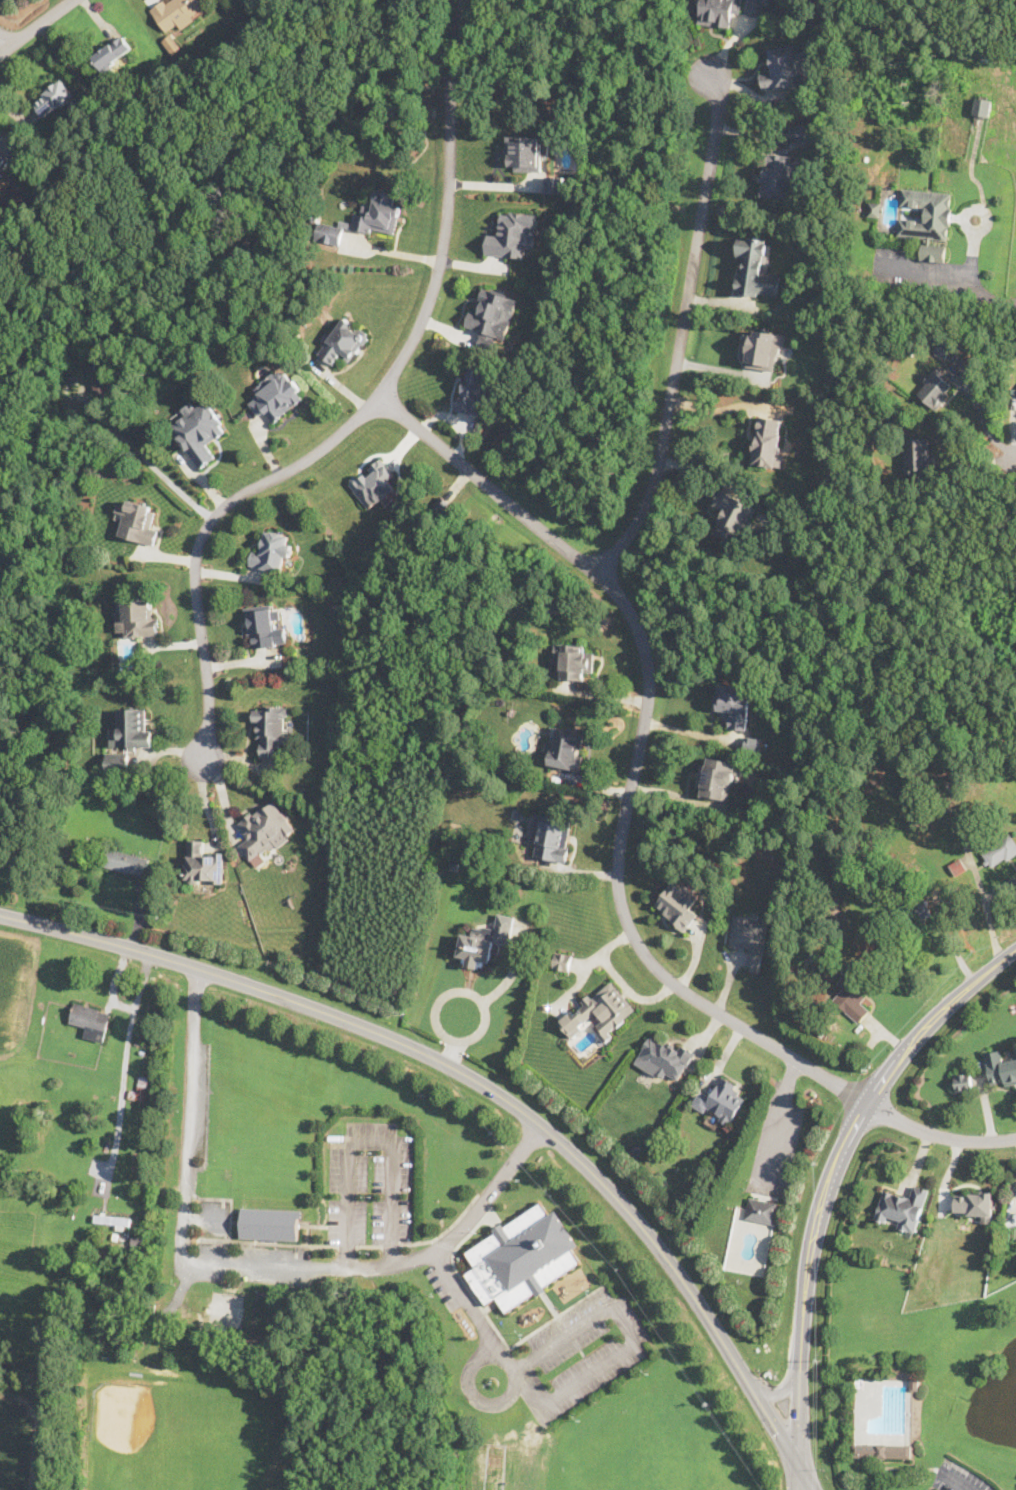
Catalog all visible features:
building: (754, 7)
building: (178, 11)
building: (718, 11)
road: (34, 25)
road: (4, 41)
building: (112, 52)
building: (786, 65)
building: (53, 97)
building: (982, 105)
building: (804, 133)
building: (527, 152)
building: (2, 161)
building: (777, 175)
building: (556, 183)
road: (497, 185)
building: (926, 213)
building: (365, 218)
building: (513, 234)
road: (392, 251)
building: (933, 251)
building: (756, 268)
road: (995, 297)
building: (492, 316)
road: (683, 327)
building: (344, 341)
building: (762, 349)
building: (948, 351)
building: (99, 384)
building: (935, 388)
building: (473, 390)
building: (277, 394)
road: (725, 408)
road: (364, 413)
road: (981, 414)
building: (199, 431)
building: (767, 443)
building: (916, 454)
road: (1015, 455)
road: (144, 459)
road: (705, 466)
building: (373, 482)
building: (734, 515)
building: (137, 521)
building: (273, 551)
building: (138, 617)
building: (264, 626)
building: (575, 659)
building: (734, 704)
building: (132, 727)
building: (271, 728)
building: (567, 747)
building: (117, 761)
building: (719, 779)
building: (264, 831)
road: (621, 831)
building: (551, 838)
building: (999, 850)
building: (125, 861)
building: (202, 863)
building: (677, 905)
building: (918, 907)
building: (750, 938)
building: (486, 940)
building: (561, 960)
road: (475, 986)
building: (852, 999)
building: (600, 1011)
building: (91, 1021)
road: (454, 1049)
building: (663, 1058)
building: (1001, 1067)
road: (122, 1071)
building: (963, 1081)
road: (489, 1088)
building: (721, 1101)
road: (779, 1123)
road: (366, 1139)
road: (832, 1173)
building: (975, 1203)
building: (902, 1207)
building: (760, 1211)
building: (113, 1220)
building: (270, 1223)
building: (522, 1258)
road: (250, 1266)
park: (226, 1308)
park: (267, 1314)
road: (575, 1382)
road: (780, 1389)
road: (477, 1396)
building: (883, 1450)
traffic signals: (797, 1464)
road: (796, 1477)

